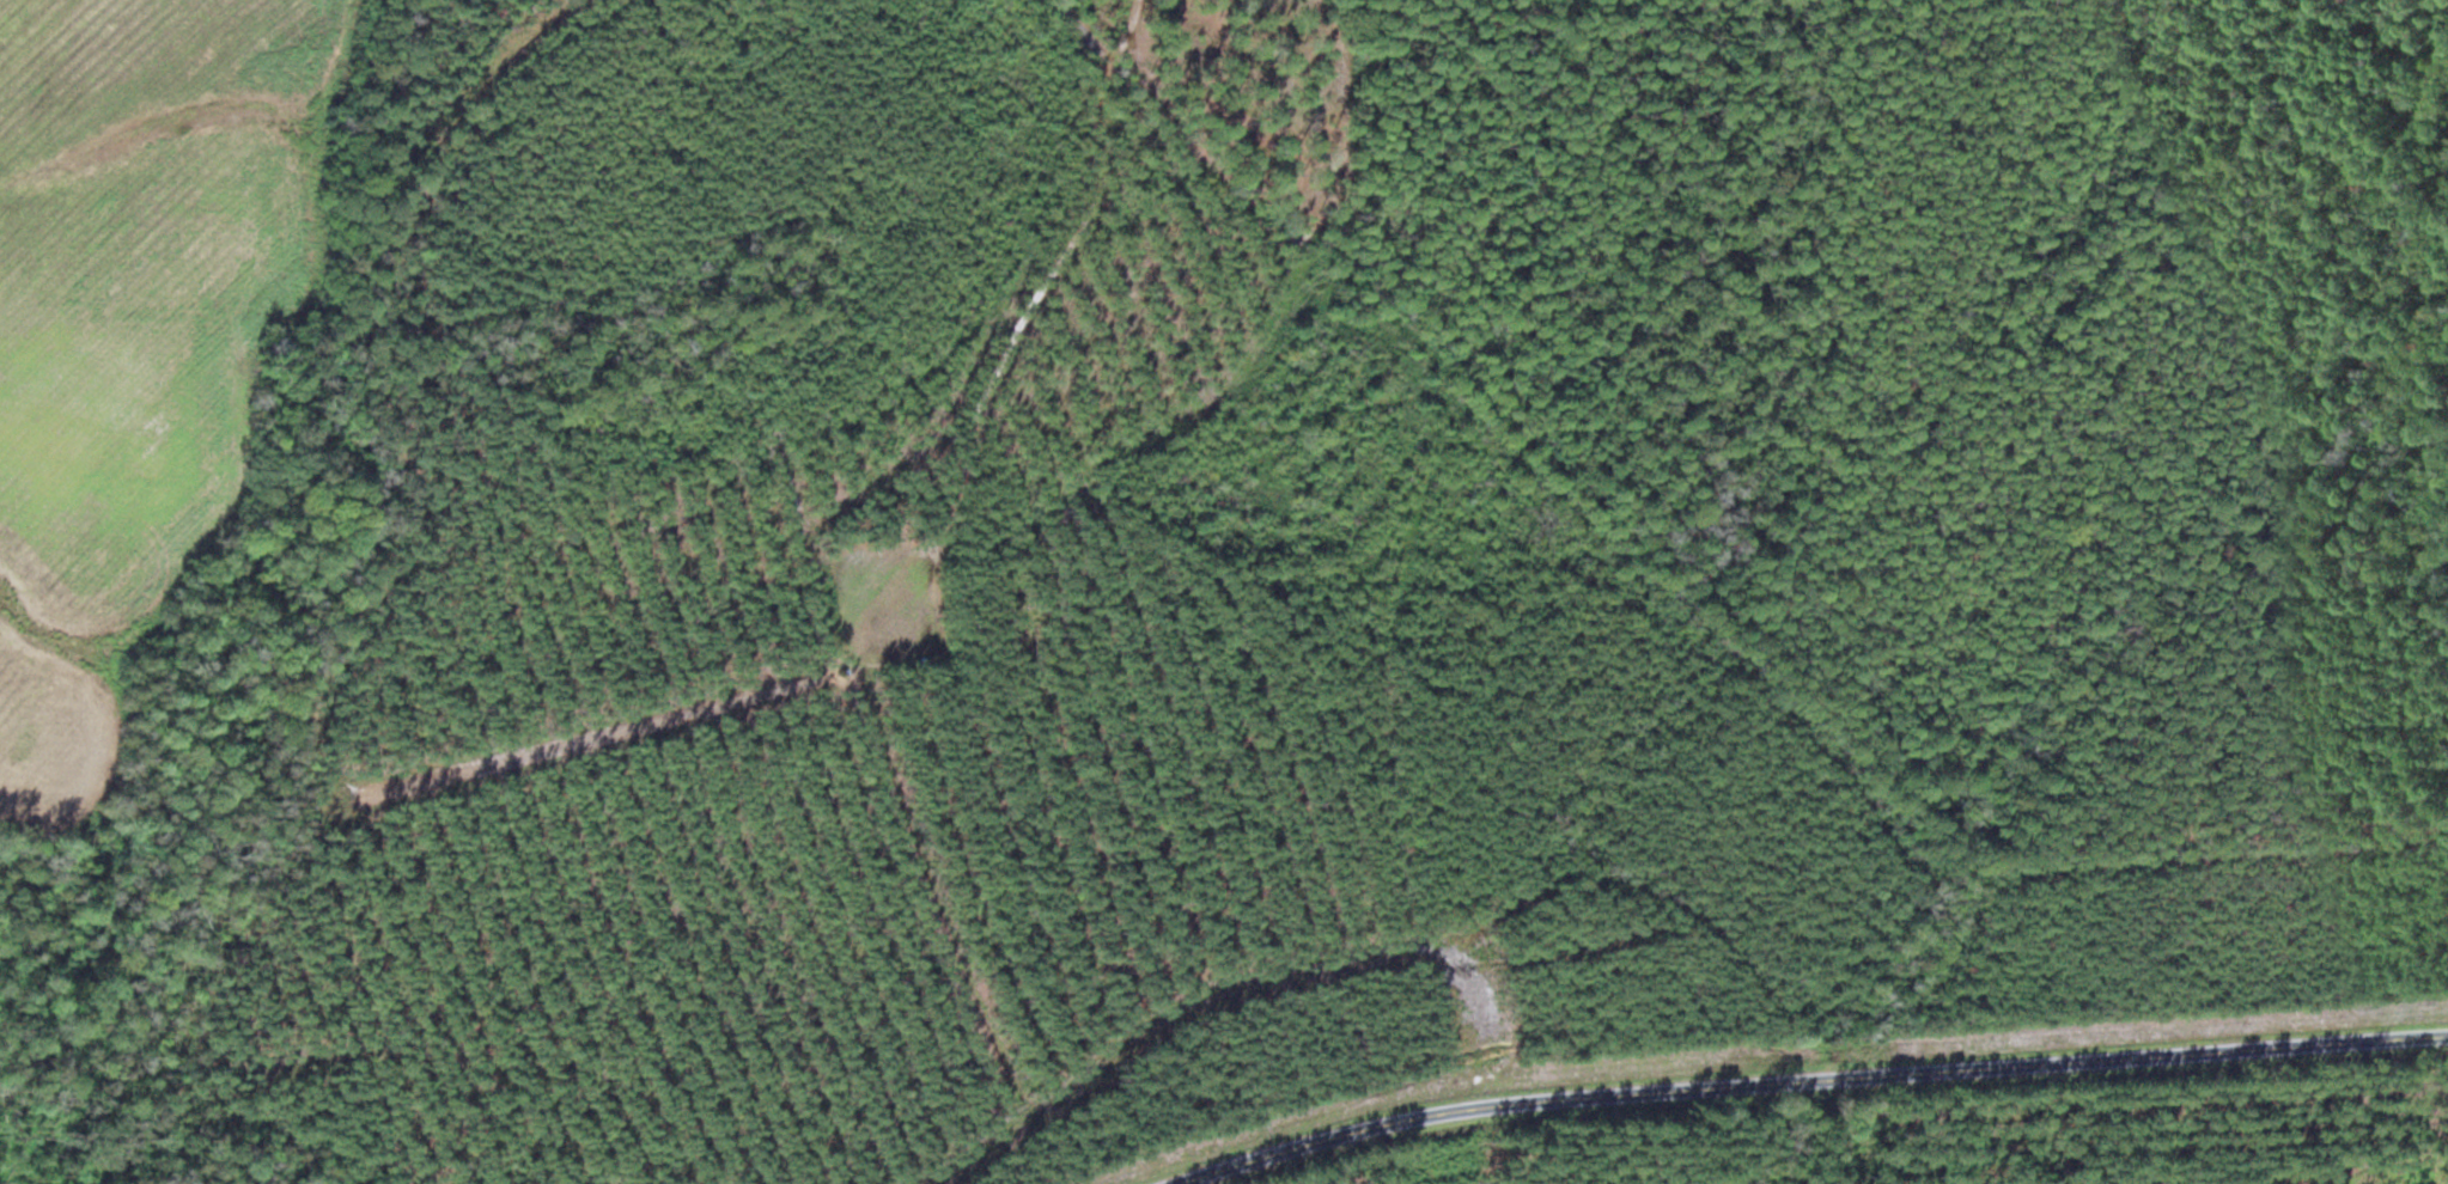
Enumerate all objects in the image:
crop: (134, 329)
road: (1791, 1106)

